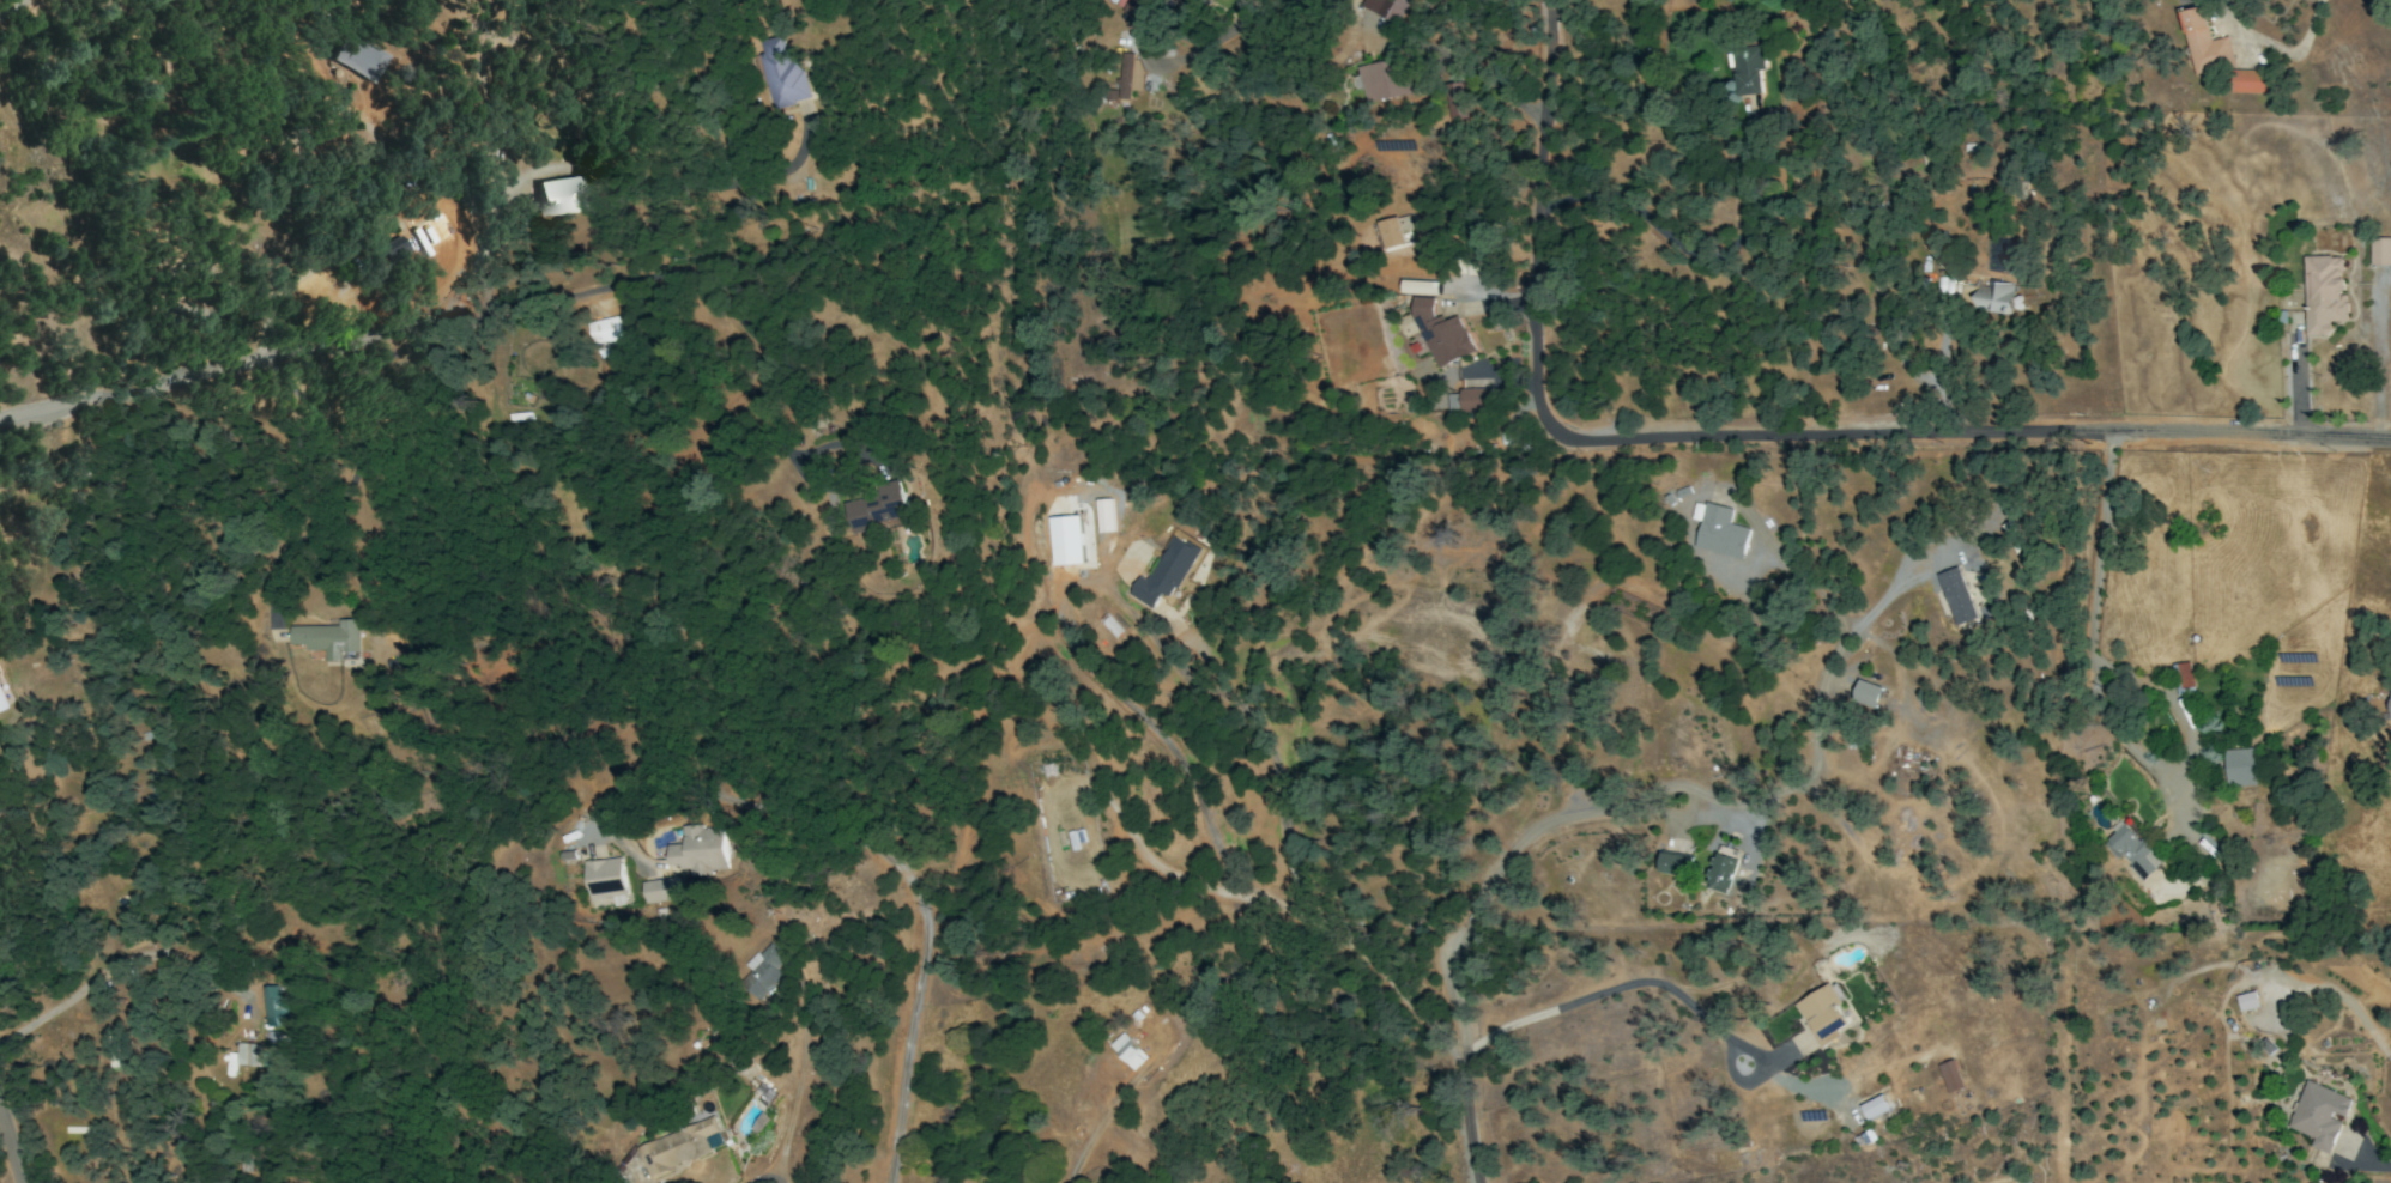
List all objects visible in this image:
road: (2, 1)
building: (1387, 8)
building: (1136, 12)
building: (2204, 43)
road: (2274, 47)
building: (359, 57)
building: (786, 71)
building: (1747, 71)
road: (1484, 77)
building: (1126, 78)
building: (1382, 80)
building: (2247, 81)
building: (1452, 101)
building: (562, 196)
road: (1539, 225)
building: (1392, 231)
road: (373, 238)
building: (392, 251)
building: (2380, 251)
road: (1691, 255)
building: (1418, 287)
building: (2323, 293)
building: (1994, 297)
building: (1441, 333)
building: (601, 334)
road: (335, 344)
road: (2378, 369)
road: (770, 372)
road: (1944, 375)
road: (2298, 380)
building: (1470, 401)
road: (1978, 435)
building: (882, 508)
building: (1720, 532)
building: (1066, 540)
building: (1164, 572)
building: (1956, 596)
road: (2094, 613)
building: (329, 638)
building: (2181, 678)
building: (1866, 693)
building: (2390, 706)
building: (2239, 768)
road: (1694, 802)
building: (698, 850)
building: (2131, 850)
road: (1287, 857)
road: (891, 863)
building: (1675, 863)
building: (1721, 873)
building: (605, 878)
building: (661, 890)
road: (108, 970)
building: (762, 971)
road: (1615, 989)
building: (2247, 1001)
building: (272, 1007)
building: (1823, 1014)
building: (1128, 1051)
building: (247, 1054)
road: (1470, 1061)
building: (1950, 1076)
building: (765, 1092)
road: (794, 1096)
building: (1875, 1106)
building: (2318, 1115)
building: (677, 1147)
road: (8, 1153)
road: (2367, 1164)
road: (765, 1177)

